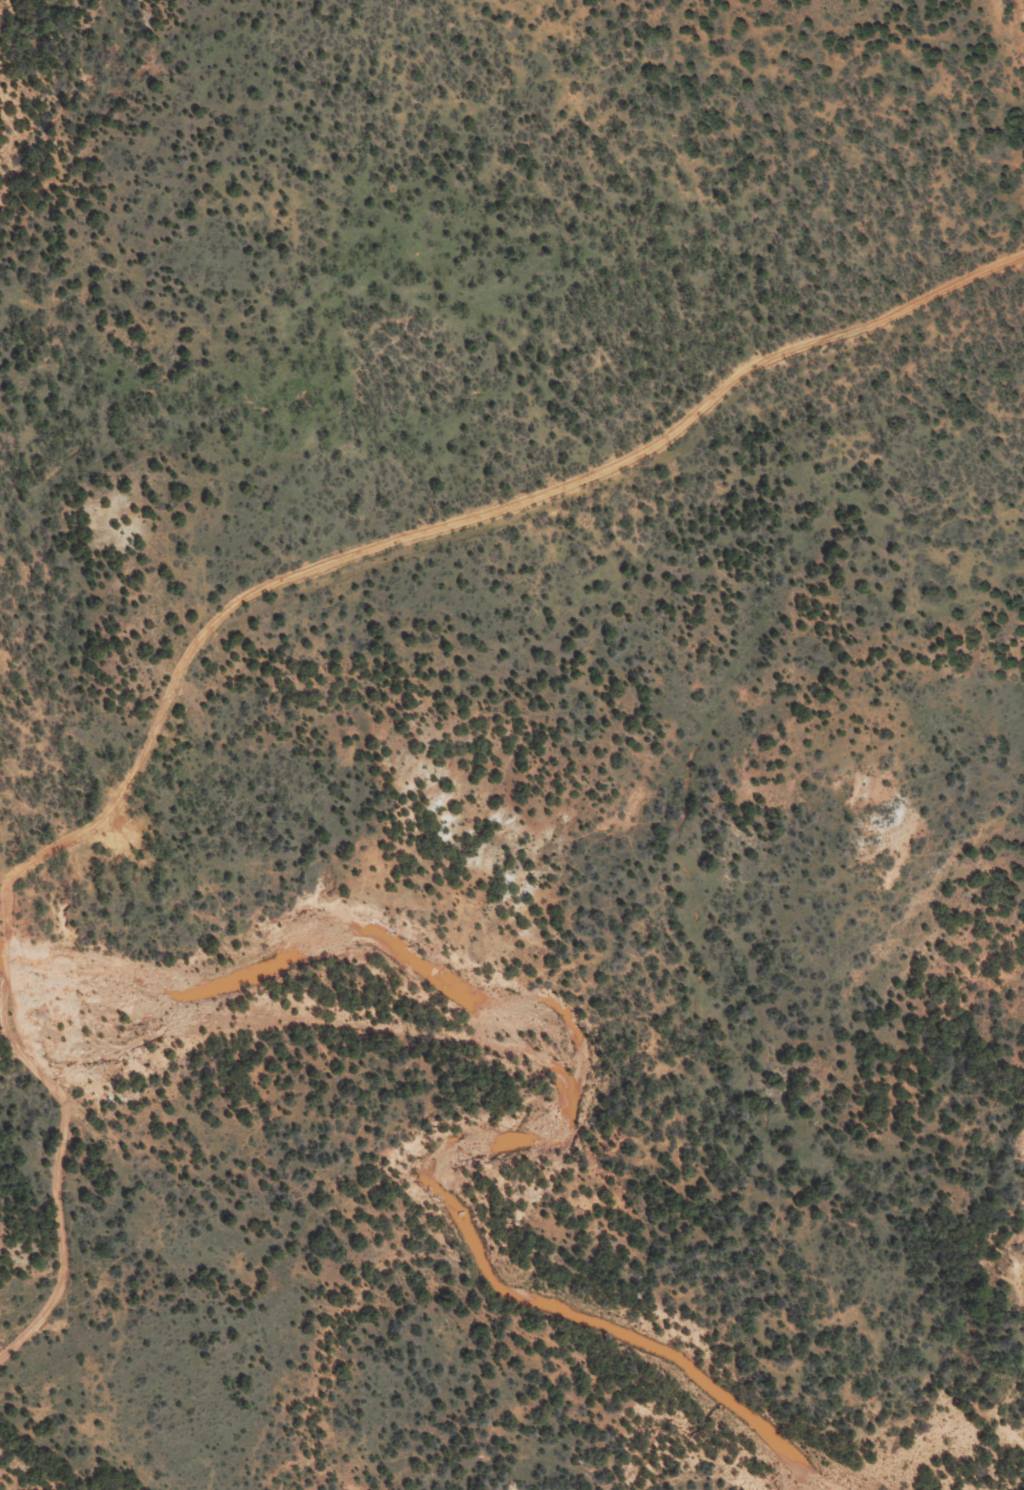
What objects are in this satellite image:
road: (303, 578)

